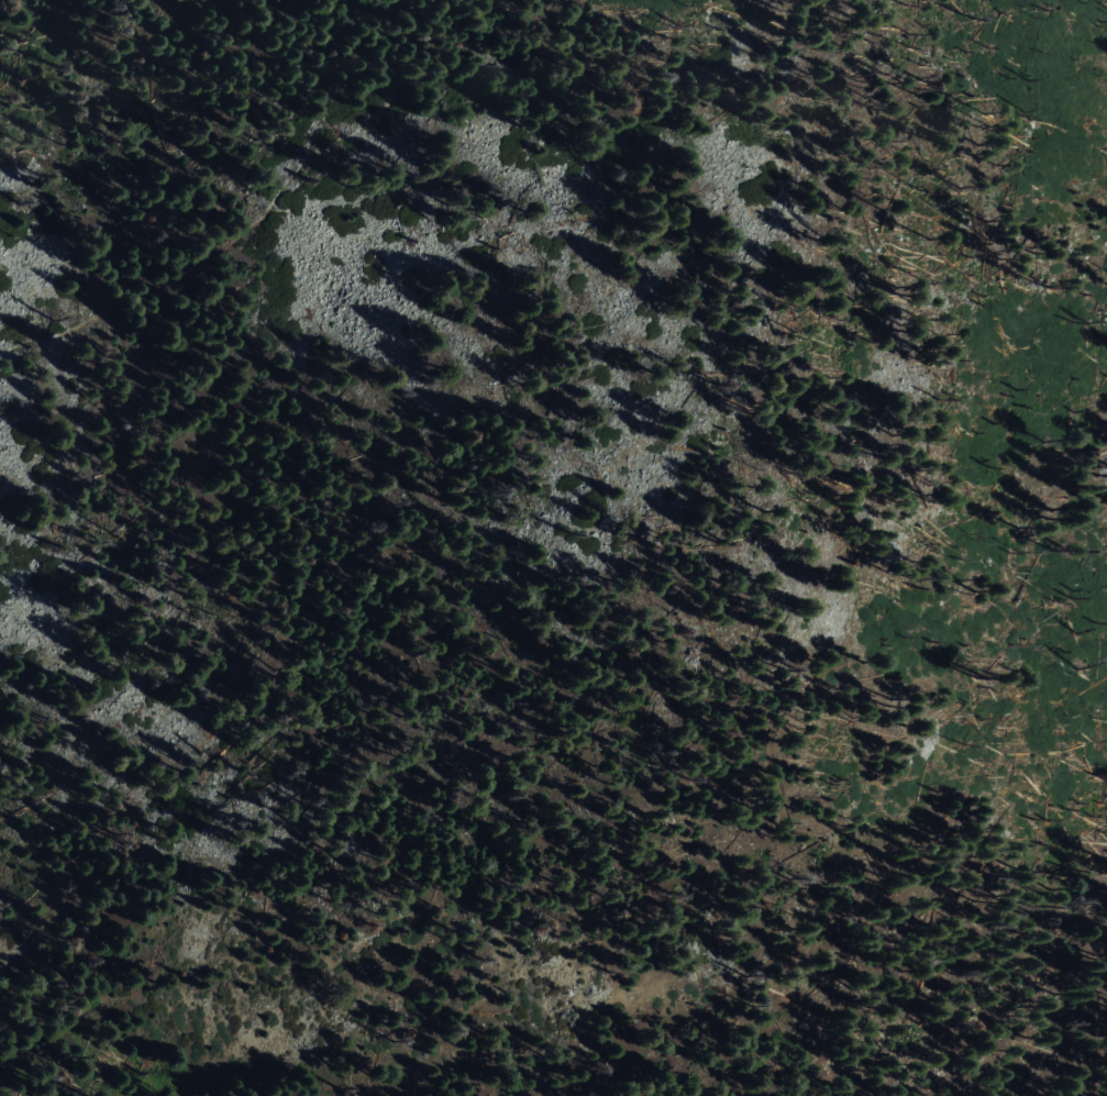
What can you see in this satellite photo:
road: (266, 206)

